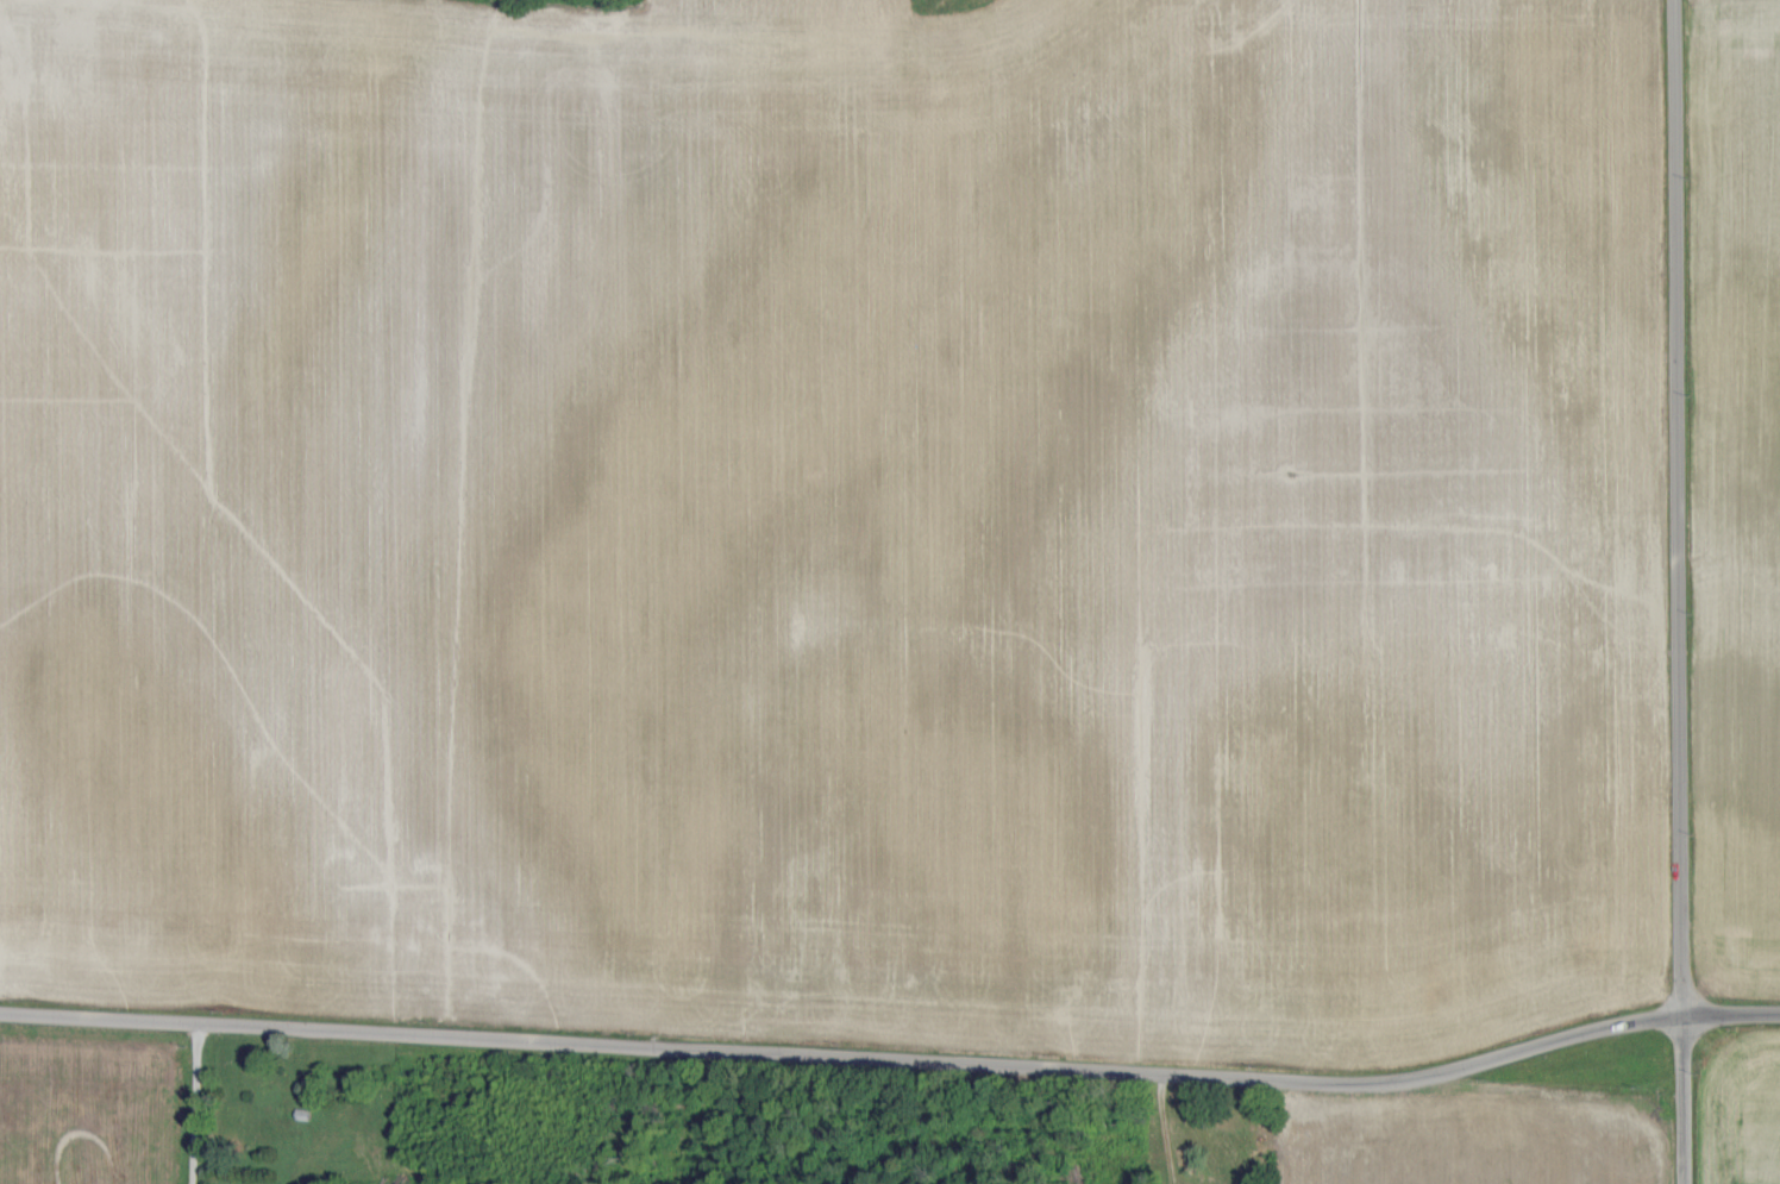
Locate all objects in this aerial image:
road: (1678, 508)
road: (894, 1061)
road: (1685, 1101)
road: (196, 1104)

